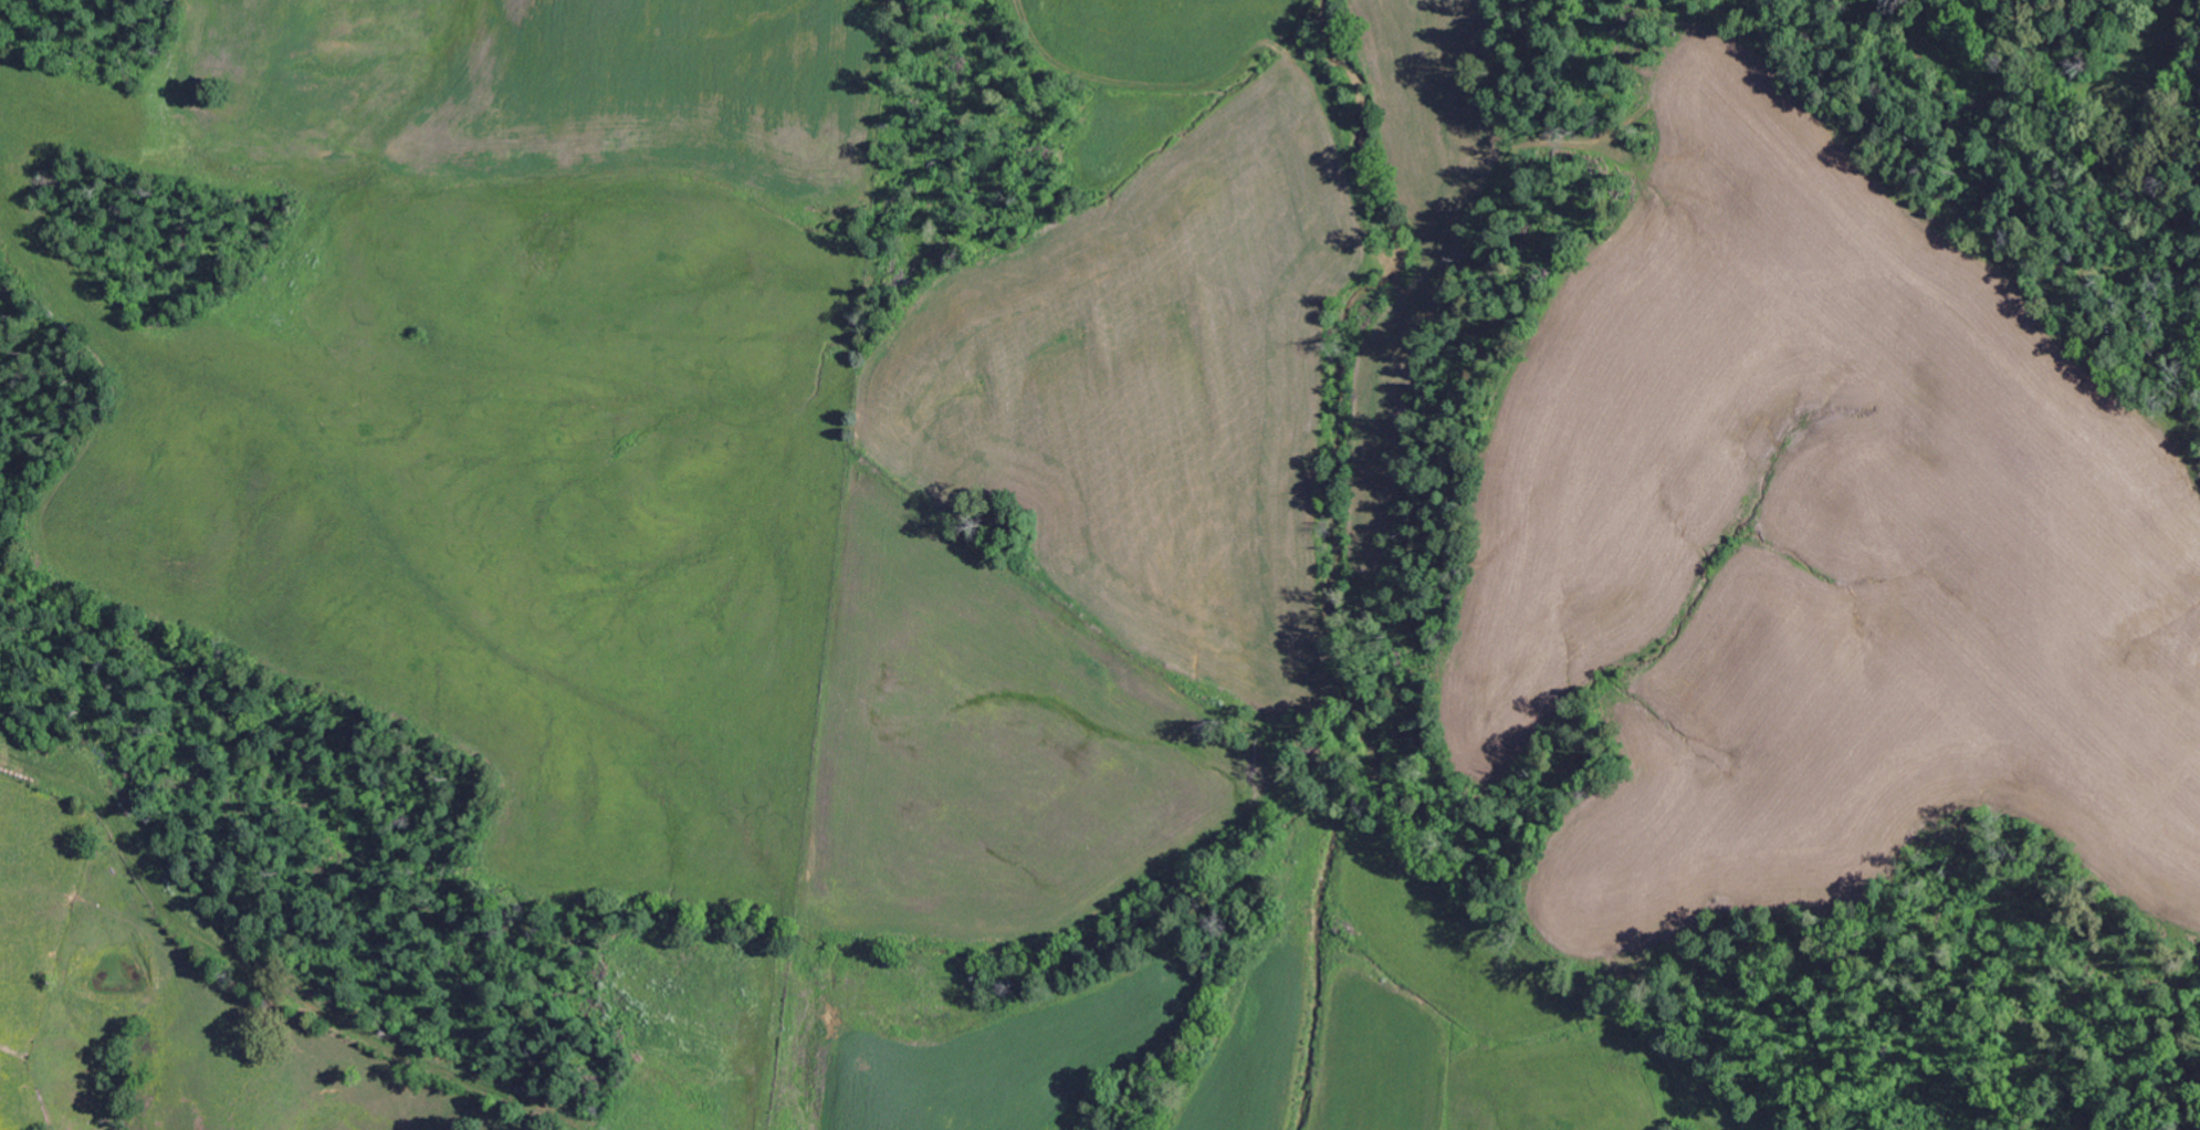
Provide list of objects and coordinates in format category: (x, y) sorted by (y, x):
road: (383, 676)

